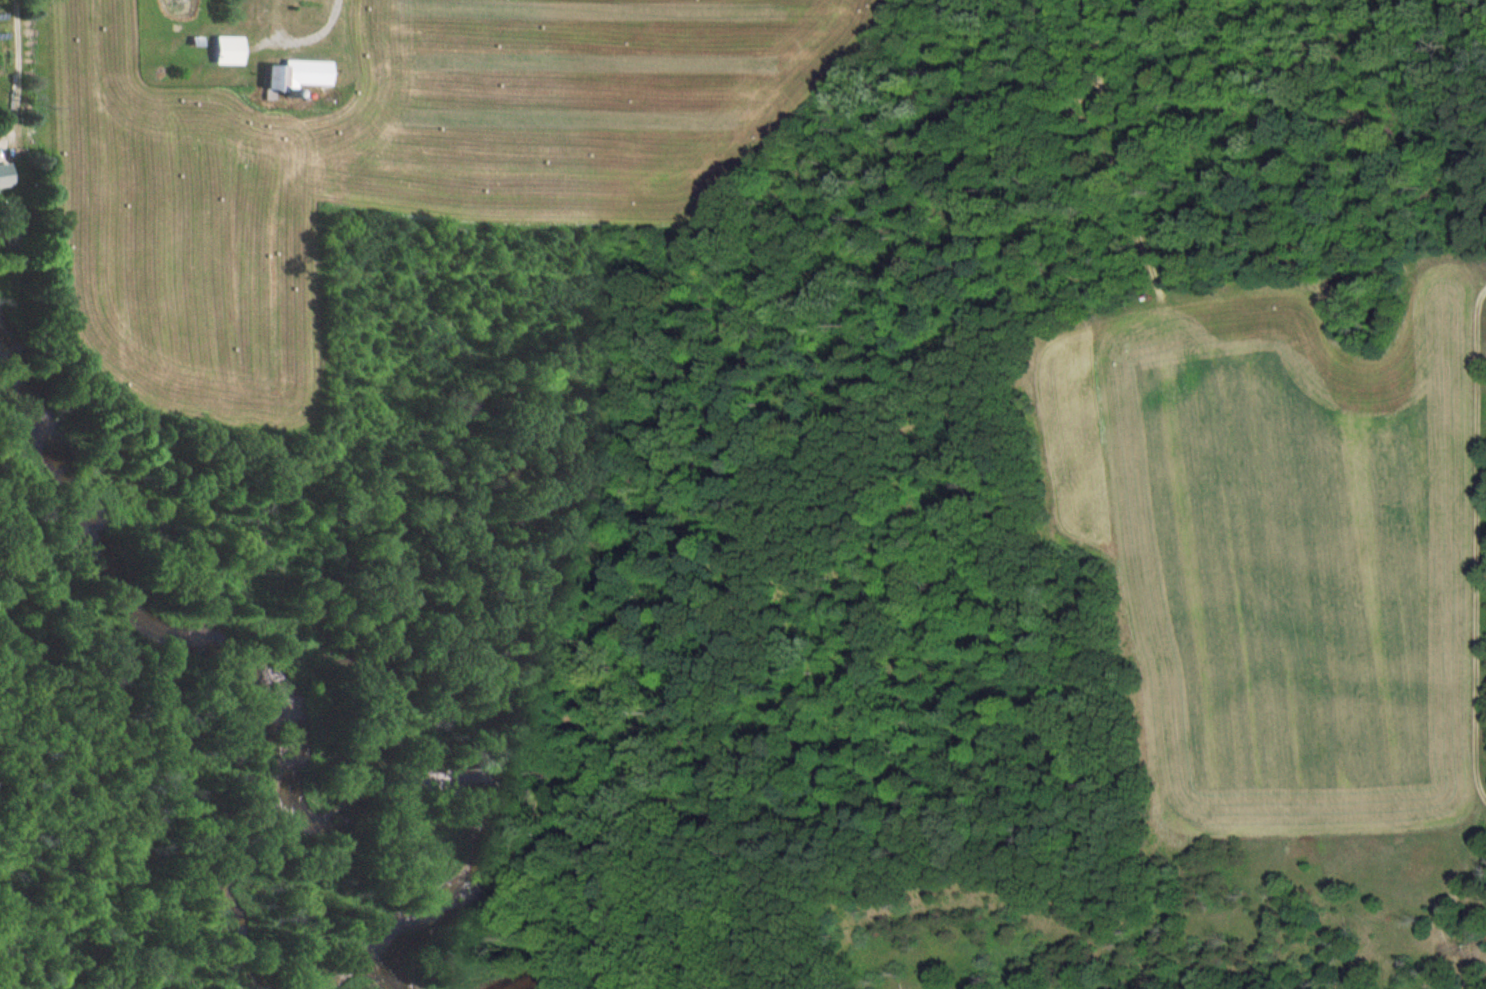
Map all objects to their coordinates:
road: (313, 36)
building: (223, 50)
road: (15, 72)
building: (293, 75)
building: (2, 175)
river: (297, 730)
river: (247, 948)
river: (534, 977)

